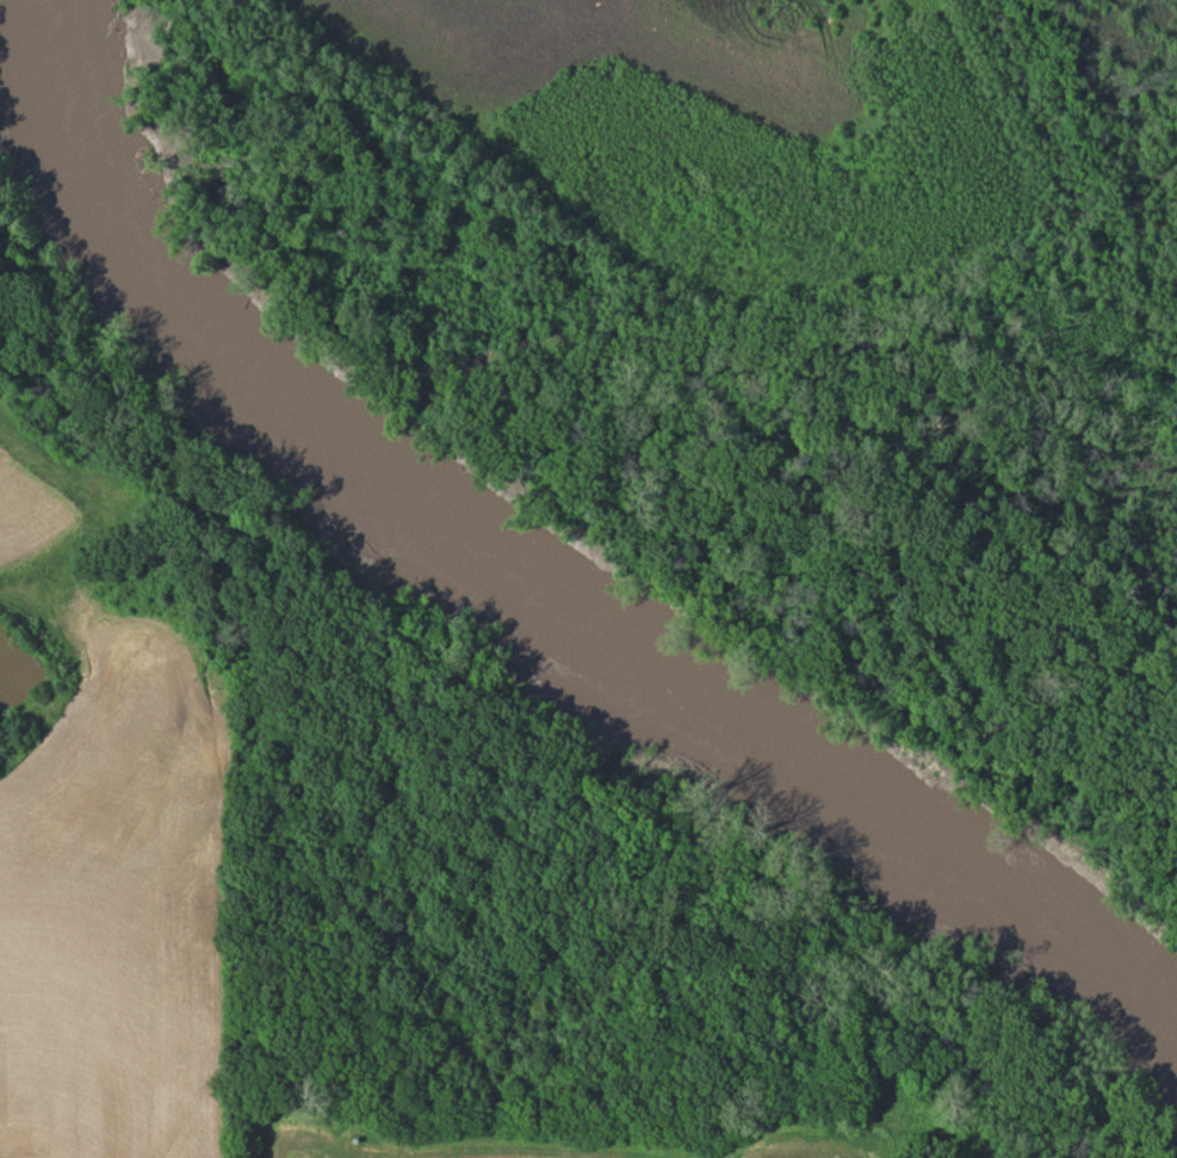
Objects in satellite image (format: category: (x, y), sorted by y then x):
river: (552, 605)

